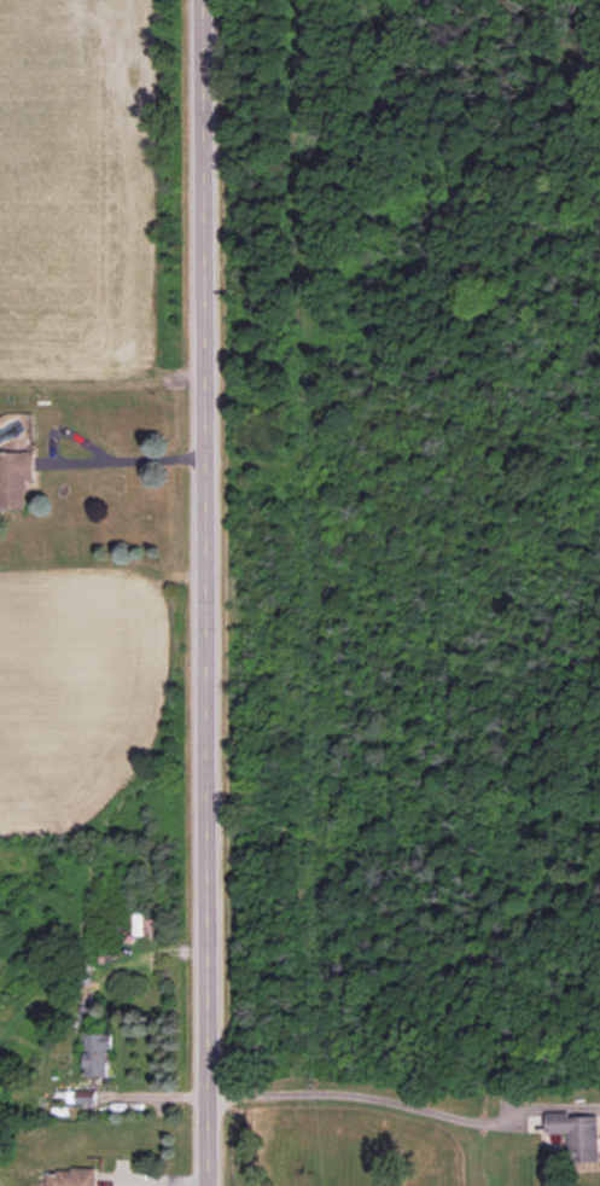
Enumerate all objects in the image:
road: (139, 460)
building: (16, 478)
road: (205, 593)
building: (97, 1053)
road: (356, 1095)
building: (576, 1134)
building: (71, 1176)

